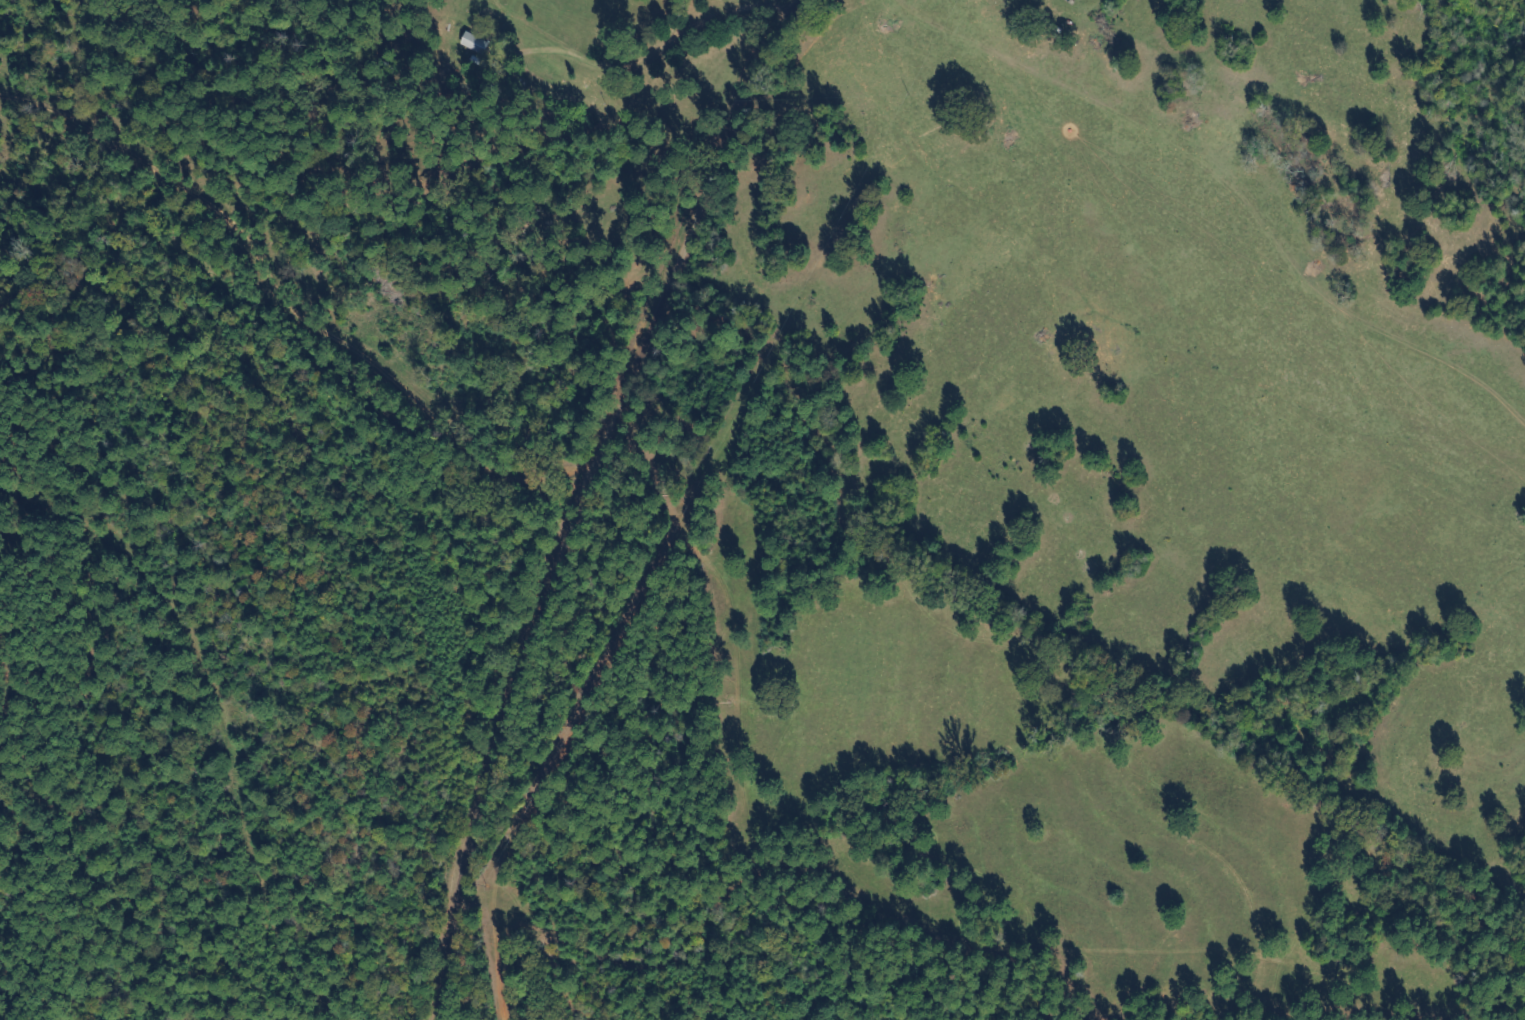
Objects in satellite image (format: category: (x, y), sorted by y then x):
road: (706, 11)
road: (749, 11)
road: (1281, 228)
road: (543, 514)
road: (201, 731)

